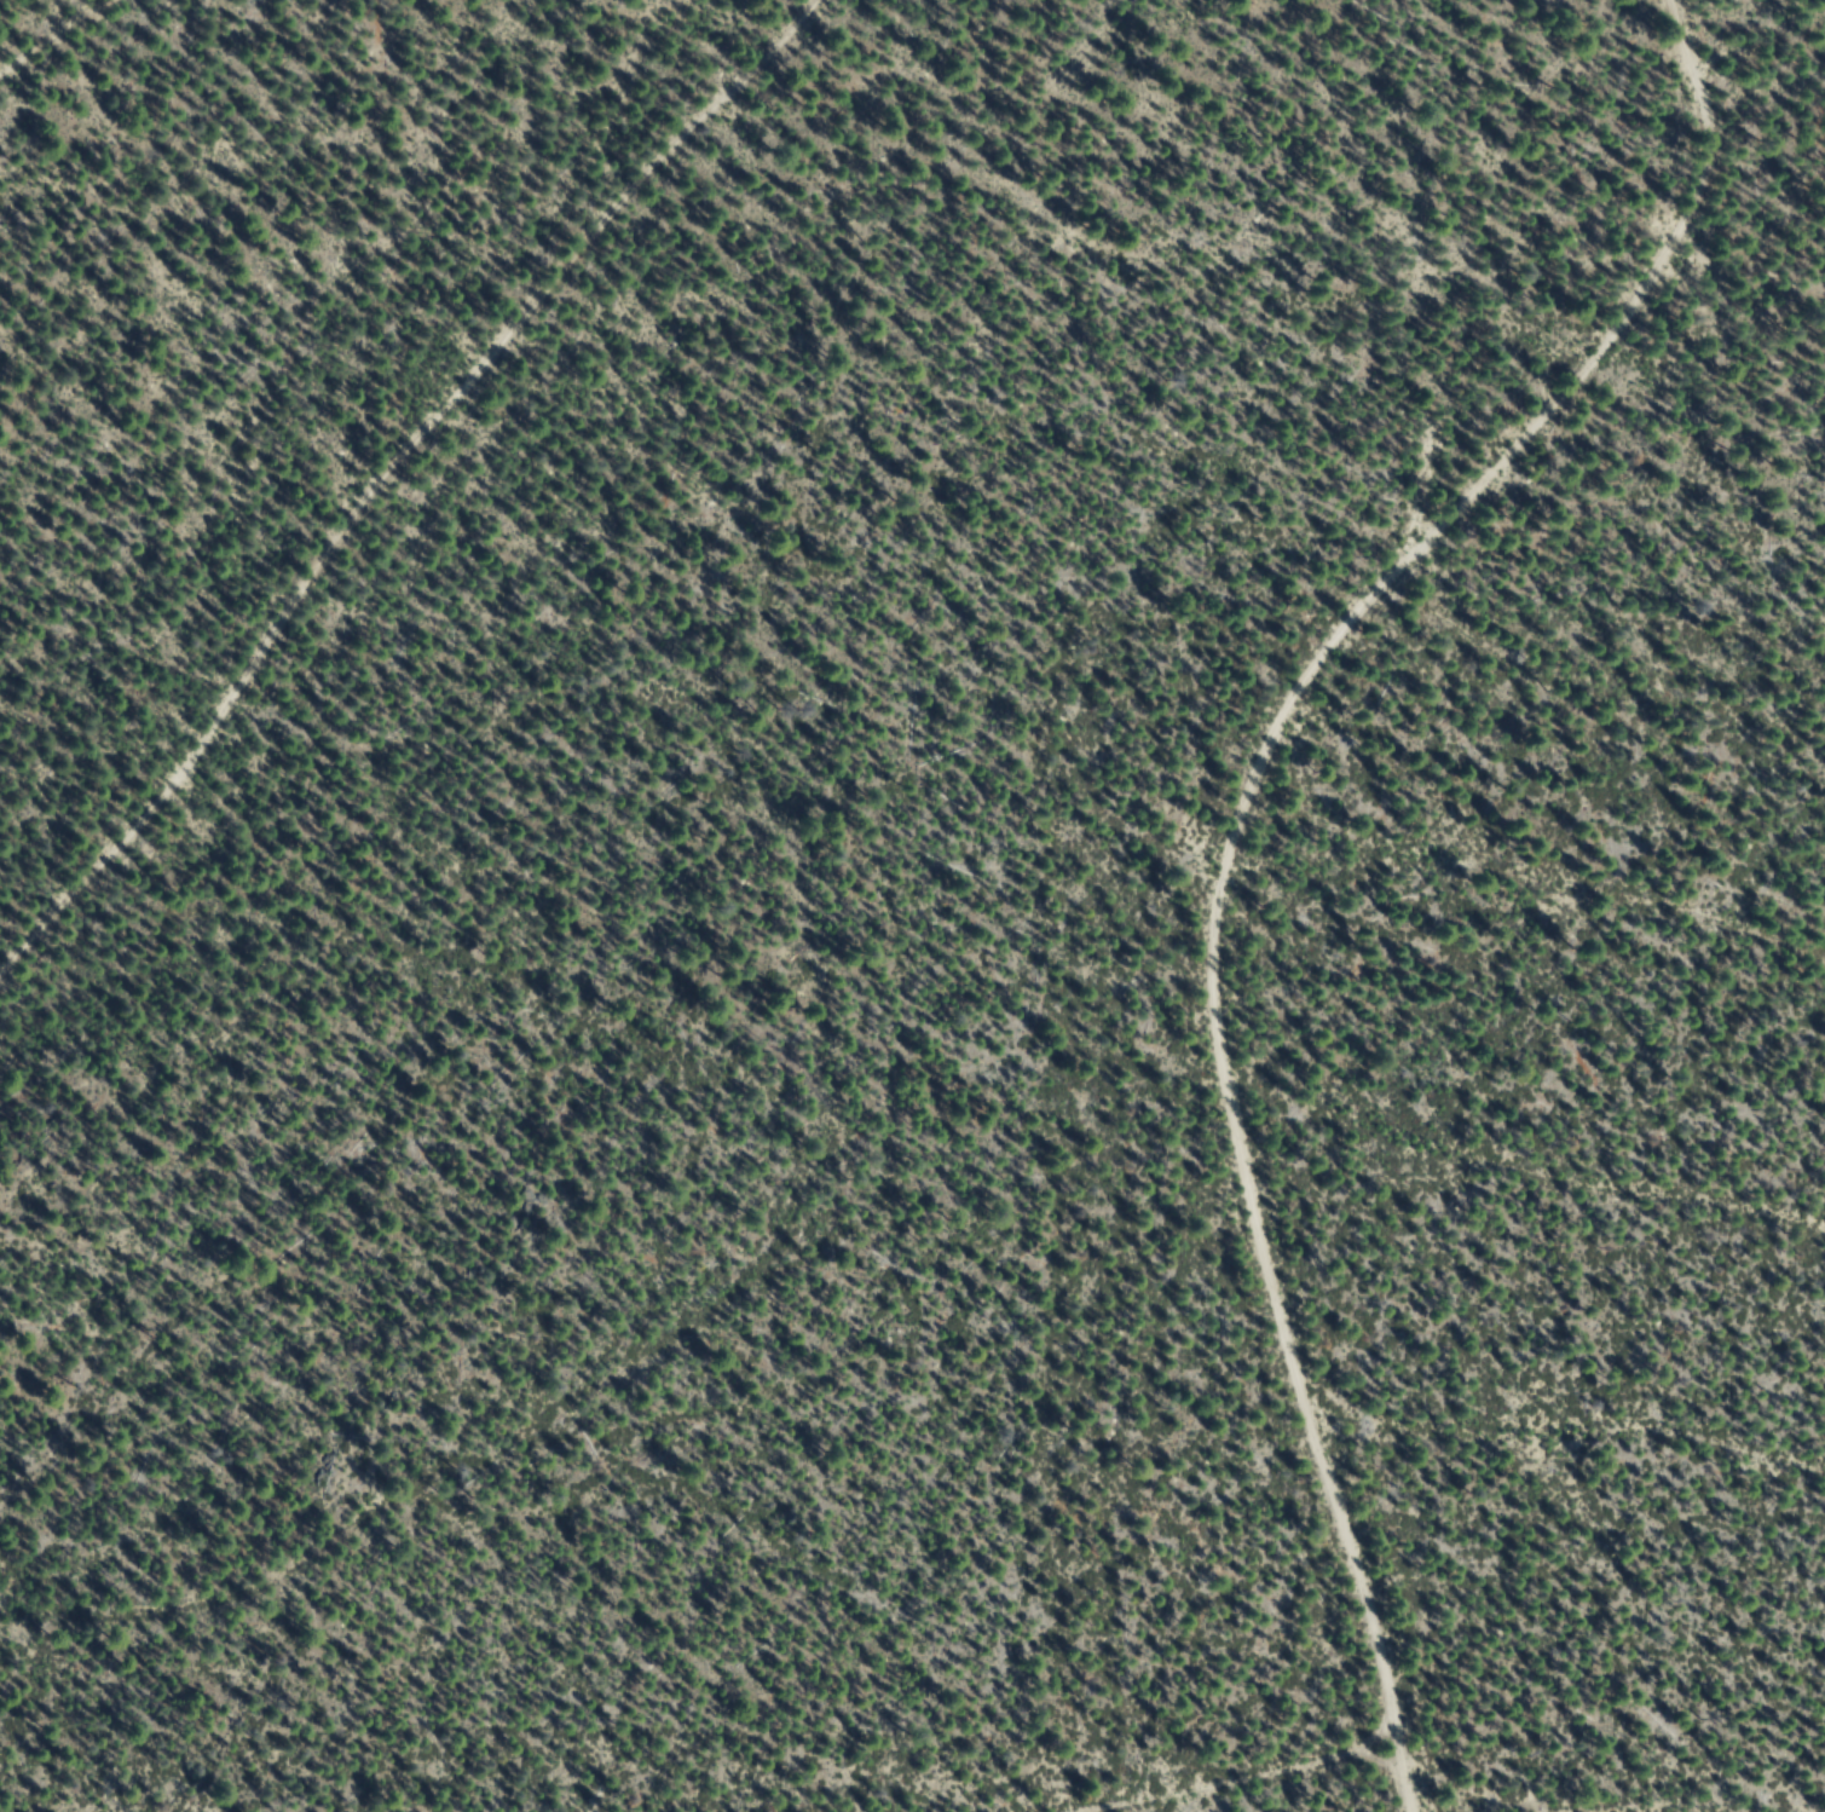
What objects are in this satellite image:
road: (67, 47)
road: (386, 483)
road: (1229, 832)
road: (1532, 862)
road: (1524, 1152)
road: (1570, 1450)
road: (1402, 1747)

